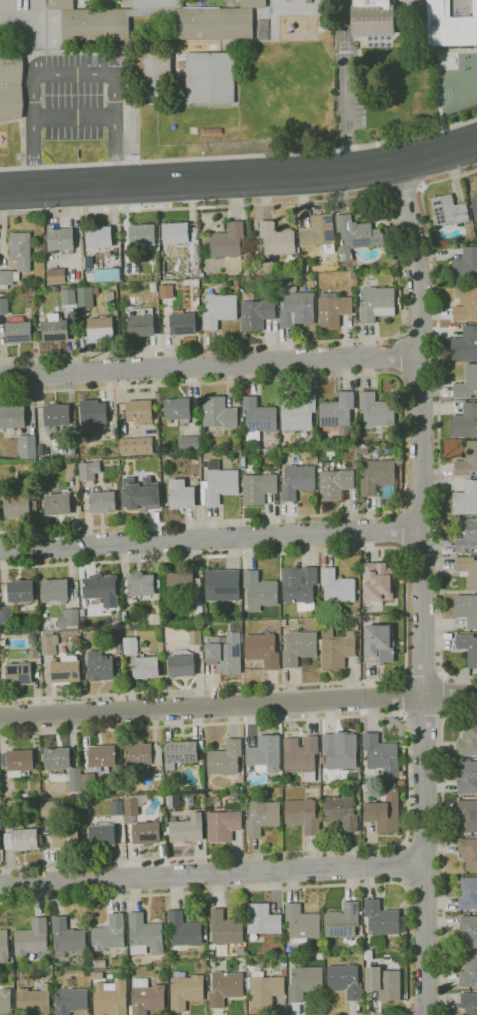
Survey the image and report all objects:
road: (38, 7)
road: (19, 15)
building: (371, 17)
building: (449, 25)
building: (206, 27)
road: (39, 44)
road: (73, 71)
building: (155, 75)
building: (209, 77)
building: (10, 85)
road: (344, 85)
road: (74, 115)
road: (240, 154)
road: (240, 177)
road: (134, 185)
road: (403, 189)
road: (264, 203)
building: (474, 206)
building: (448, 211)
building: (176, 233)
building: (319, 233)
building: (142, 234)
building: (98, 237)
building: (355, 237)
building: (60, 239)
building: (276, 239)
building: (227, 241)
building: (108, 253)
building: (17, 257)
building: (88, 263)
building: (466, 265)
building: (246, 268)
building: (106, 274)
building: (353, 275)
building: (54, 276)
building: (474, 284)
building: (279, 287)
building: (165, 290)
building: (67, 296)
building: (86, 297)
building: (376, 303)
building: (465, 304)
building: (3, 305)
building: (296, 308)
building: (332, 308)
building: (219, 310)
building: (33, 311)
building: (256, 314)
building: (142, 323)
building: (182, 323)
building: (55, 329)
building: (18, 330)
building: (100, 330)
building: (465, 344)
road: (199, 347)
road: (399, 357)
road: (209, 364)
building: (467, 383)
building: (175, 410)
building: (139, 411)
building: (376, 411)
building: (93, 412)
building: (218, 412)
building: (299, 414)
building: (339, 414)
building: (57, 415)
road: (438, 417)
building: (12, 418)
building: (257, 418)
building: (465, 421)
building: (74, 427)
building: (274, 436)
road: (404, 442)
building: (188, 443)
building: (271, 444)
building: (135, 445)
building: (27, 447)
building: (238, 455)
building: (467, 460)
building: (243, 463)
building: (88, 470)
building: (377, 476)
building: (475, 476)
building: (297, 481)
building: (334, 482)
building: (218, 484)
building: (258, 488)
building: (141, 494)
building: (181, 495)
building: (465, 499)
building: (103, 502)
building: (57, 504)
building: (16, 507)
road: (401, 528)
building: (467, 536)
road: (210, 539)
building: (468, 571)
building: (377, 581)
building: (183, 584)
building: (141, 585)
building: (222, 585)
building: (300, 587)
building: (337, 587)
road: (423, 587)
building: (103, 588)
building: (56, 589)
building: (22, 591)
building: (259, 591)
building: (467, 609)
building: (199, 610)
road: (405, 613)
building: (7, 615)
building: (69, 617)
building: (124, 620)
building: (283, 622)
building: (355, 627)
building: (205, 637)
building: (195, 638)
building: (34, 639)
building: (3, 642)
building: (49, 642)
building: (378, 643)
building: (130, 645)
building: (299, 647)
building: (468, 647)
building: (336, 648)
building: (226, 650)
building: (262, 650)
building: (35, 652)
building: (181, 665)
building: (101, 666)
building: (145, 667)
building: (67, 669)
building: (19, 674)
road: (424, 675)
road: (446, 695)
road: (401, 696)
road: (238, 705)
road: (423, 717)
building: (467, 741)
building: (340, 750)
building: (181, 752)
building: (145, 754)
building: (265, 754)
building: (301, 755)
building: (381, 755)
building: (104, 757)
building: (225, 758)
building: (58, 759)
building: (4, 760)
building: (322, 760)
building: (22, 762)
building: (172, 773)
building: (242, 773)
building: (401, 773)
building: (76, 774)
building: (467, 777)
road: (407, 780)
building: (89, 781)
building: (401, 782)
building: (278, 784)
building: (286, 784)
building: (364, 786)
building: (5, 790)
building: (80, 794)
building: (86, 794)
building: (233, 796)
building: (211, 800)
building: (246, 804)
building: (132, 806)
building: (118, 807)
building: (358, 807)
building: (51, 808)
building: (0, 811)
building: (162, 811)
building: (340, 812)
building: (384, 812)
building: (302, 815)
building: (467, 816)
building: (262, 817)
building: (224, 824)
building: (150, 829)
building: (187, 829)
building: (102, 833)
building: (0, 835)
building: (22, 837)
building: (67, 837)
road: (442, 848)
building: (469, 852)
road: (405, 863)
road: (212, 873)
road: (279, 887)
building: (468, 893)
building: (263, 920)
building: (381, 922)
building: (303, 923)
building: (343, 923)
building: (363, 927)
building: (227, 928)
building: (184, 931)
building: (469, 931)
building: (111, 934)
building: (146, 935)
building: (69, 936)
building: (33, 937)
building: (4, 946)
building: (180, 957)
building: (367, 957)
building: (99, 963)
building: (469, 972)
building: (97, 976)
building: (345, 981)
building: (305, 982)
building: (384, 982)
building: (226, 987)
building: (267, 988)
building: (187, 991)
building: (147, 997)
building: (111, 998)
building: (7, 1000)
building: (35, 1000)
building: (72, 1000)
building: (469, 1003)

